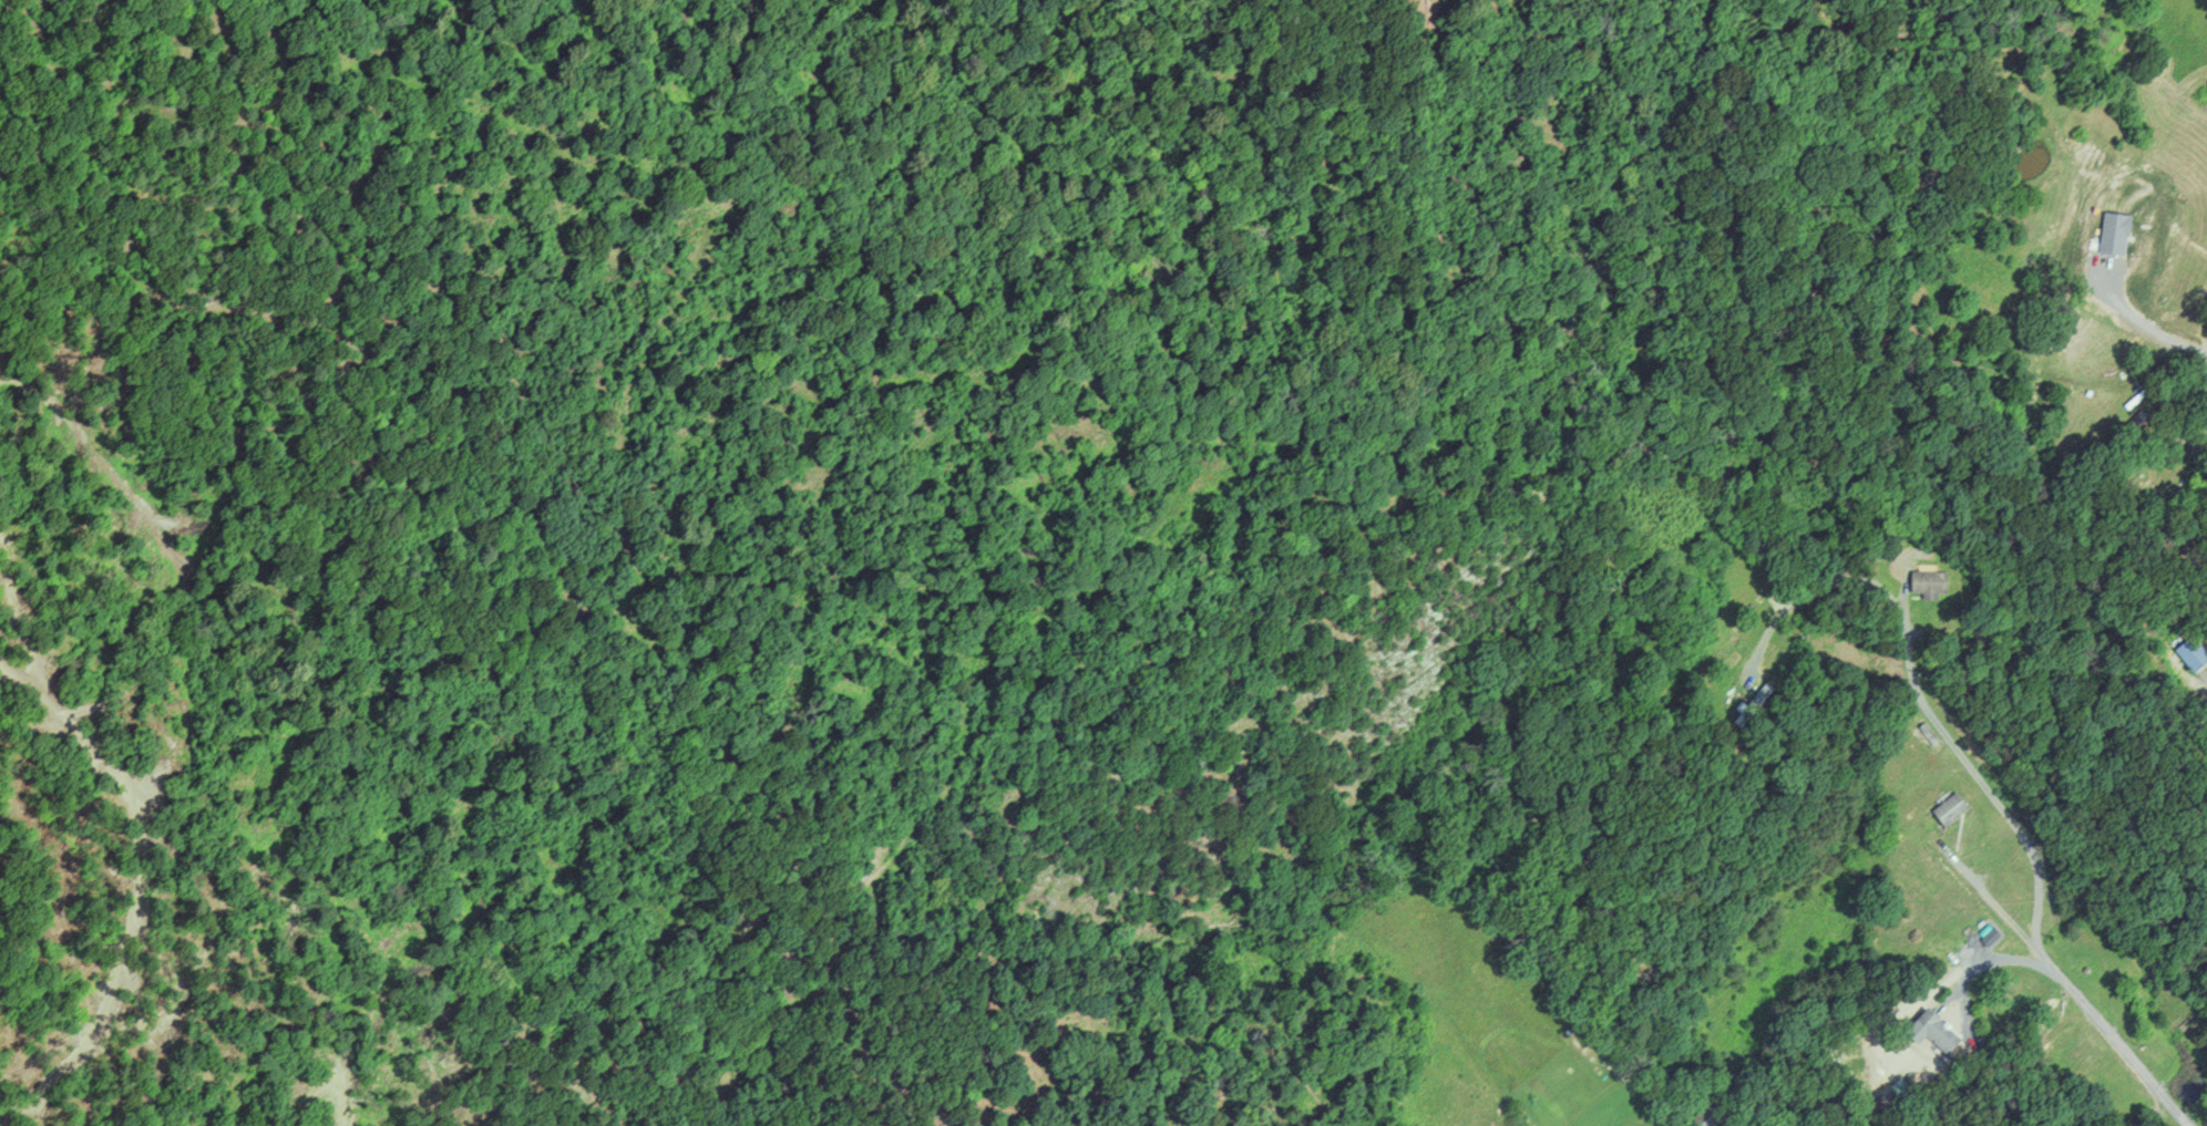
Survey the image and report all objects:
building: (1930, 582)
building: (2194, 653)
road: (1913, 685)
building: (1756, 704)
building: (1954, 808)
road: (1995, 959)
road: (2074, 989)
building: (1943, 1029)
building: (1711, 1114)

